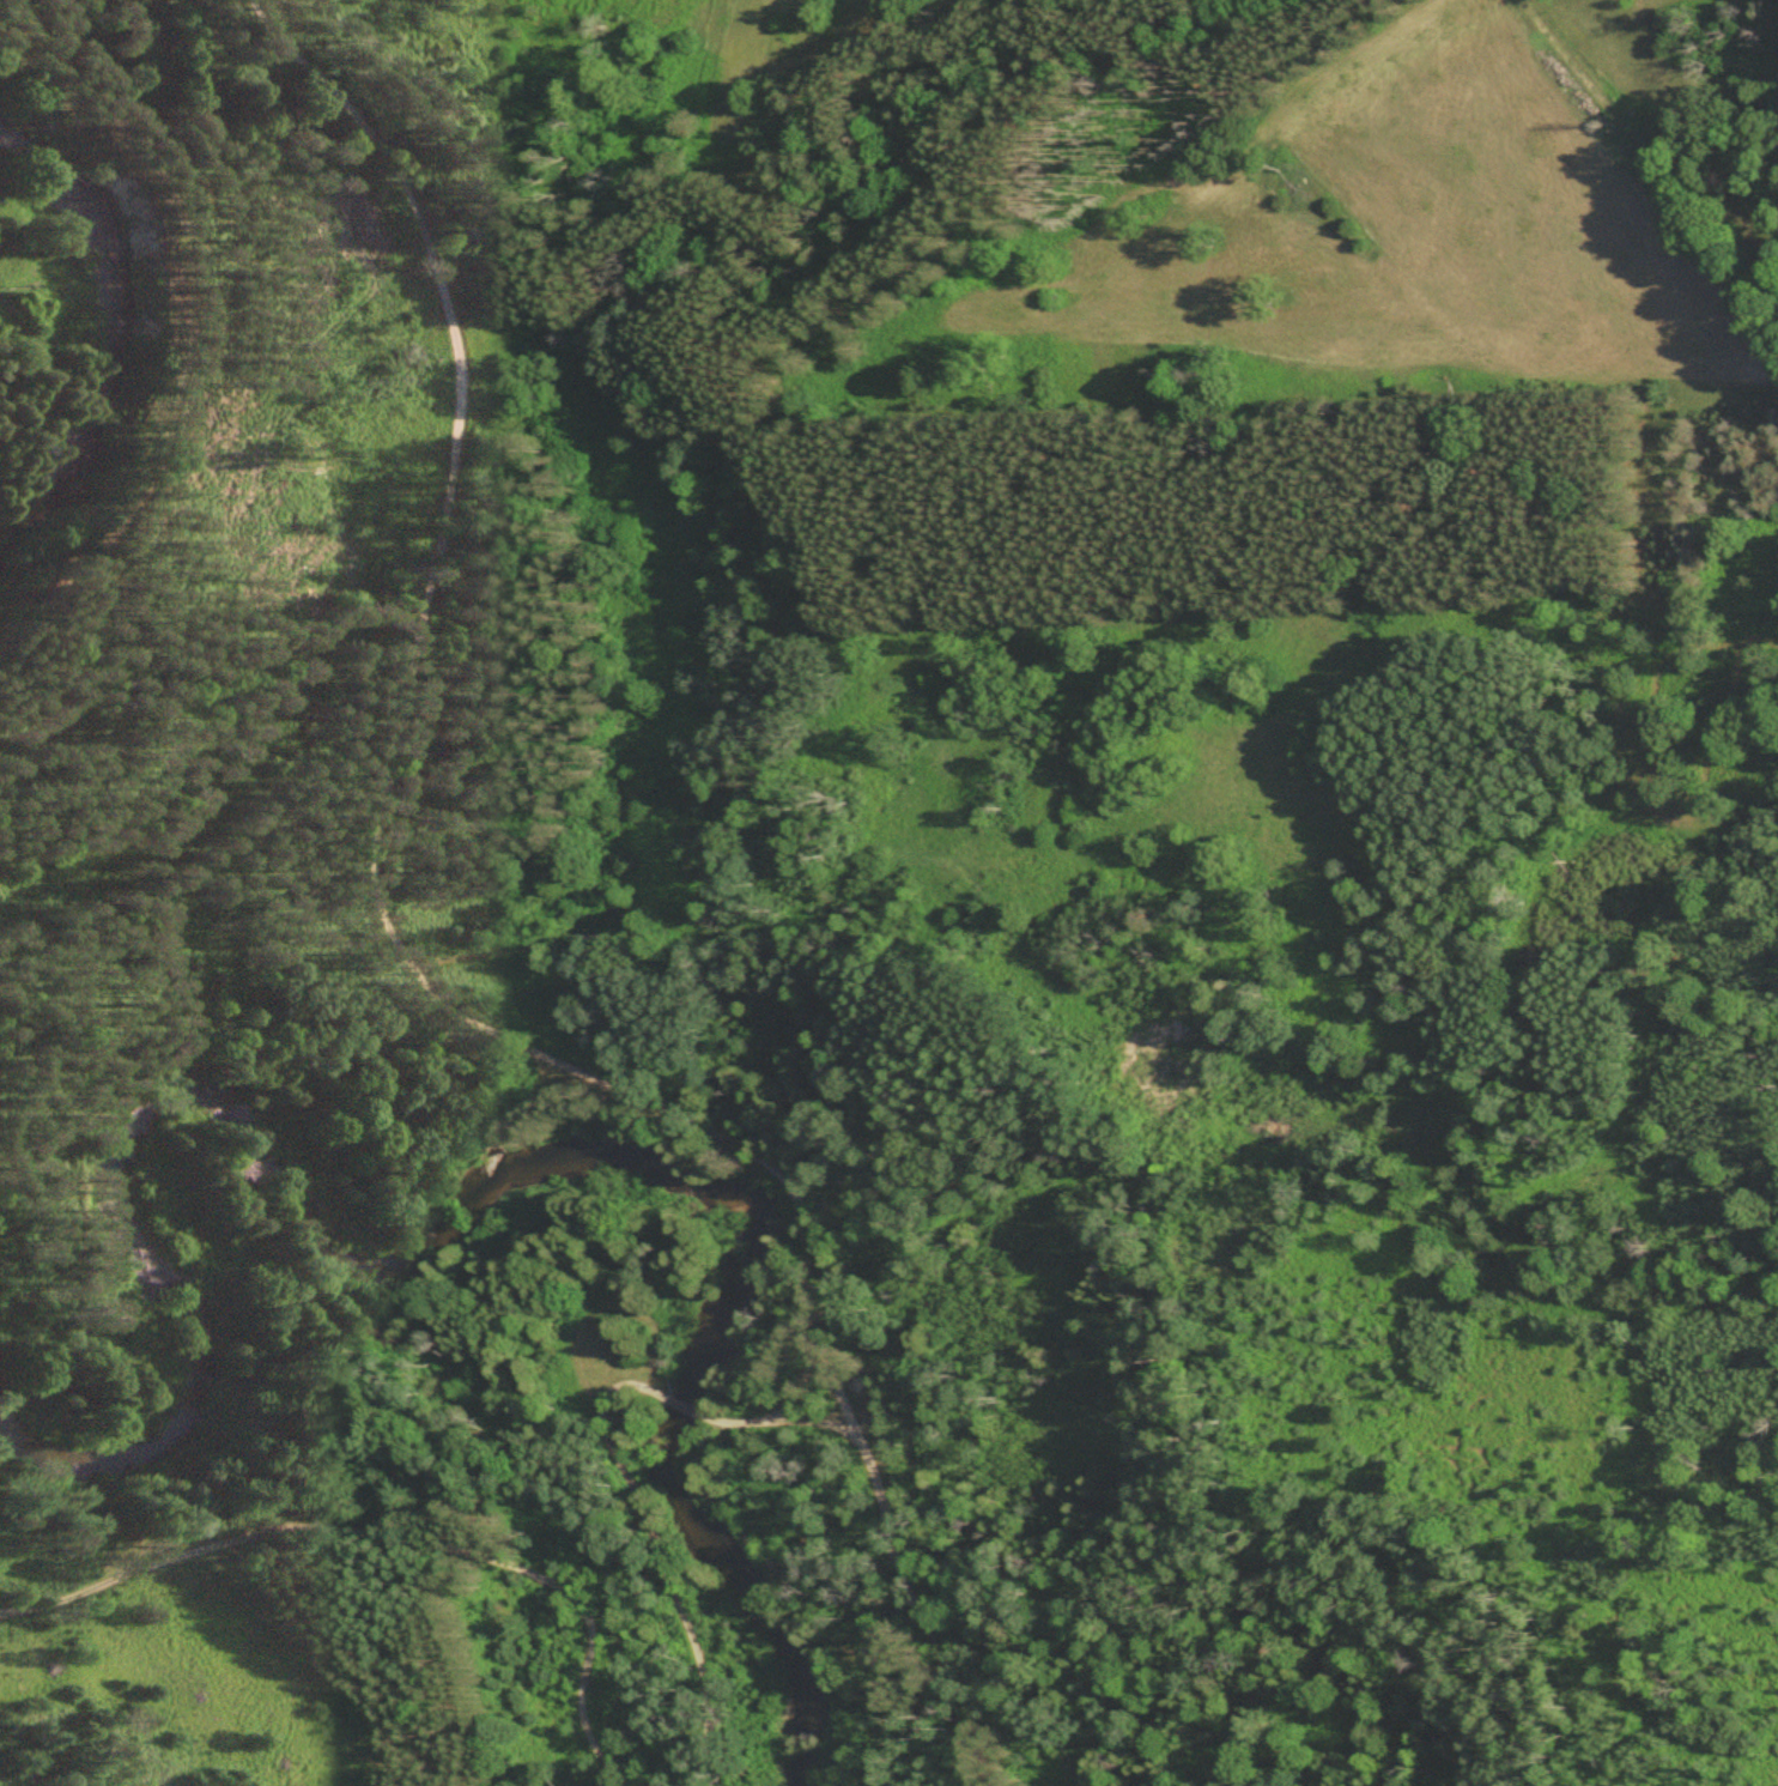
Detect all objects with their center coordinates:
road: (1644, 170)
river: (120, 338)
road: (419, 973)
river: (435, 1239)
road: (693, 1406)
road: (796, 1418)
road: (390, 1531)
road: (668, 1558)

